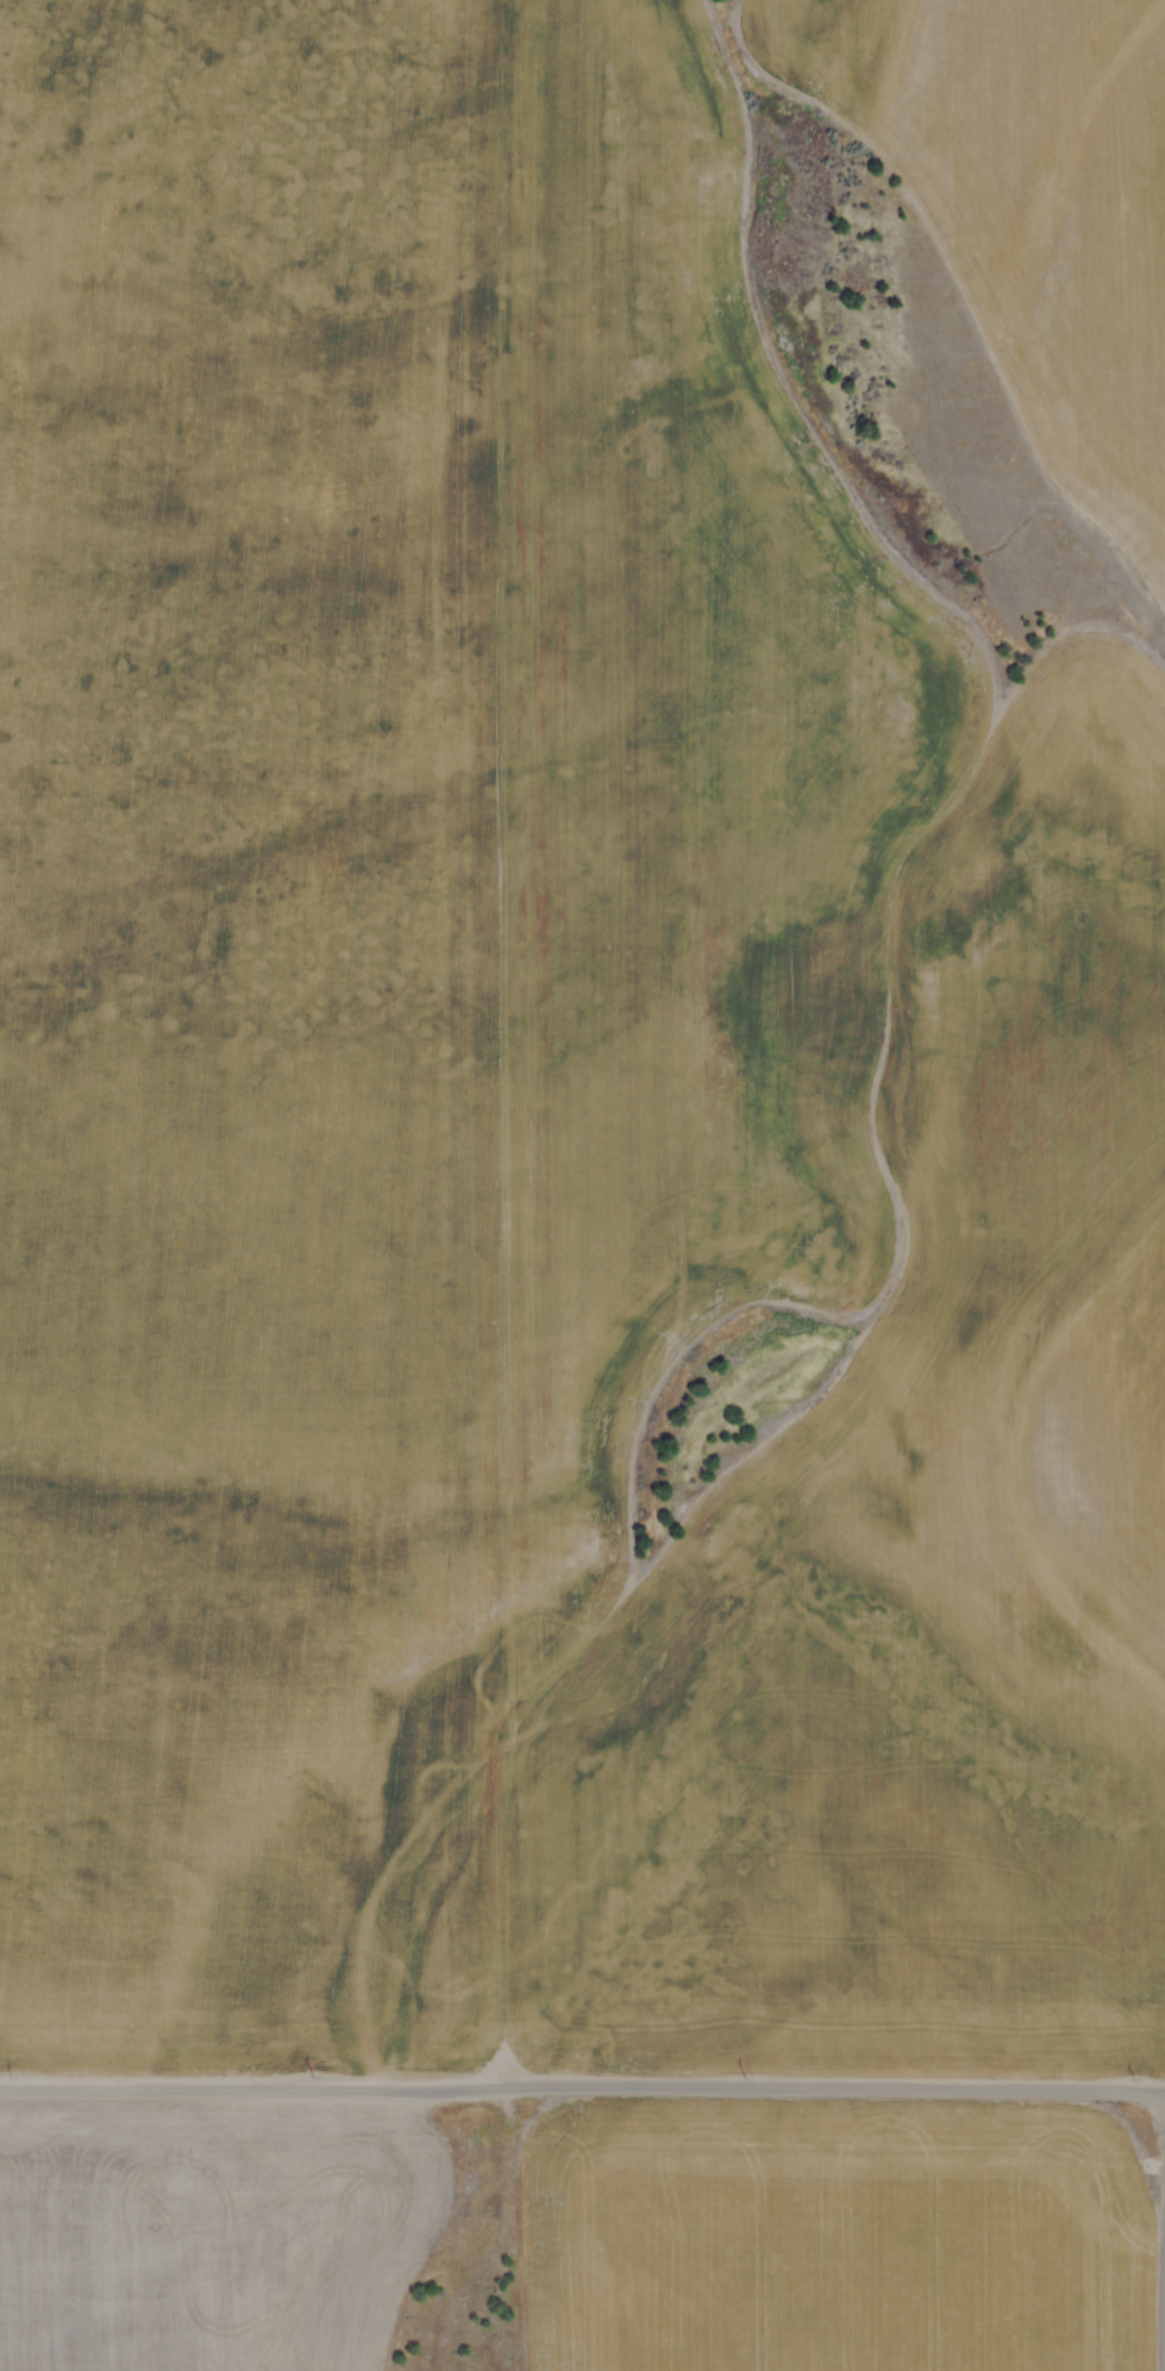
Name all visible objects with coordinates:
road: (582, 2081)
road: (1163, 2307)

